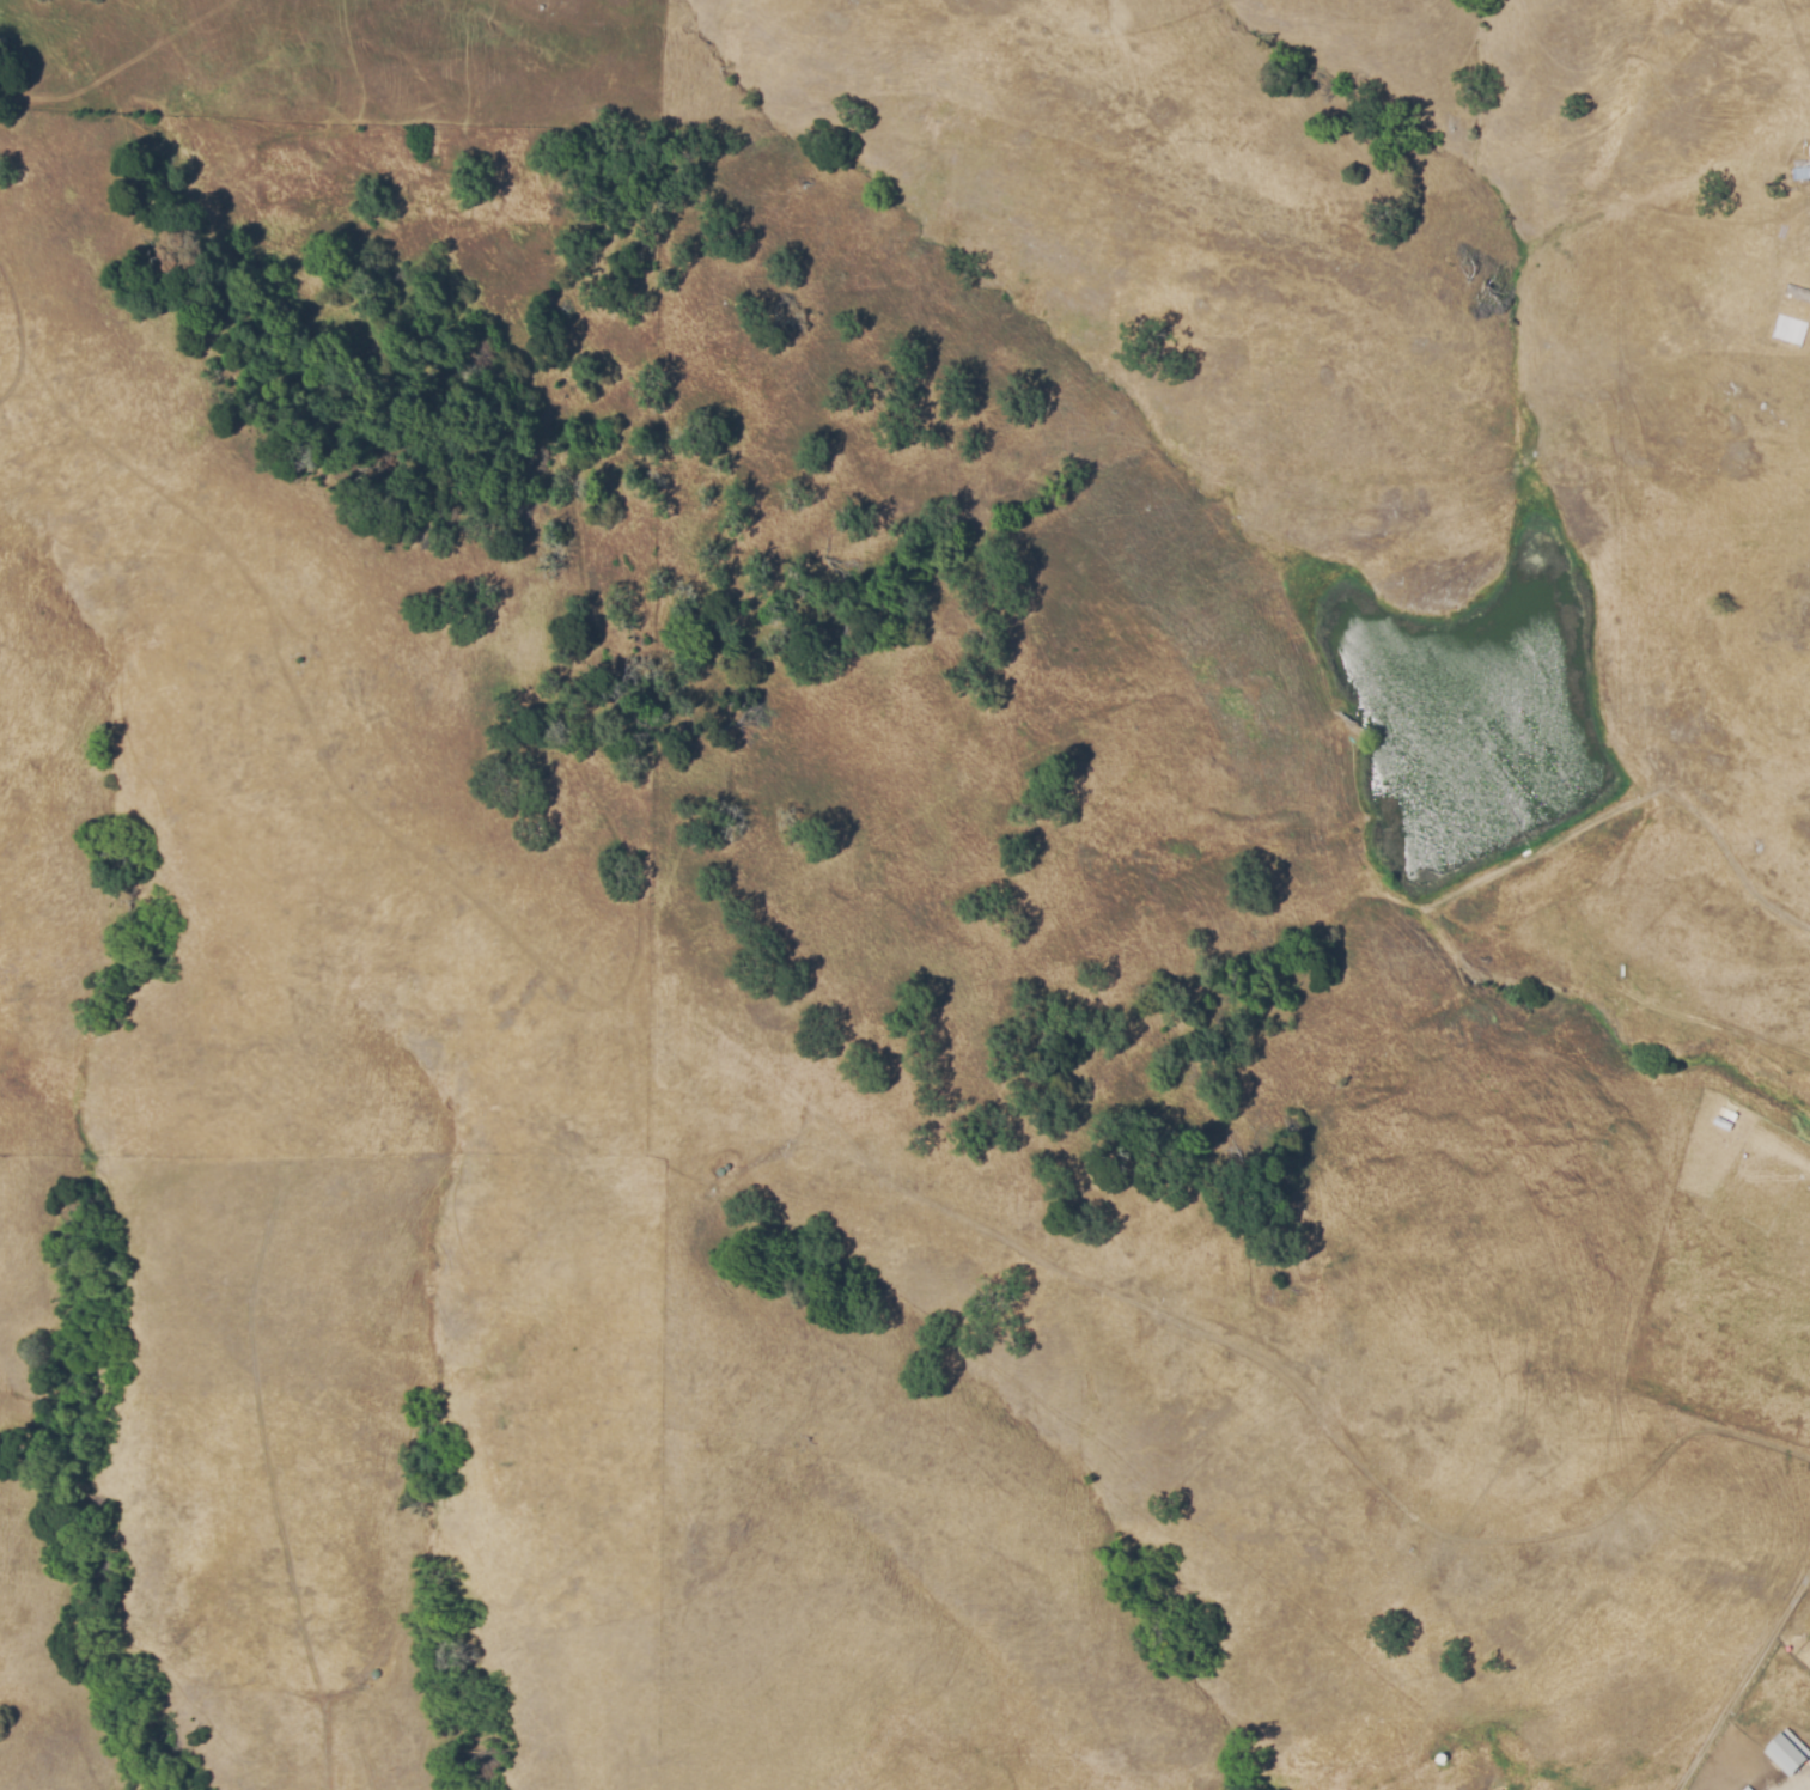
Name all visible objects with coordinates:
building: (1785, 1752)
building: (1743, 1789)

